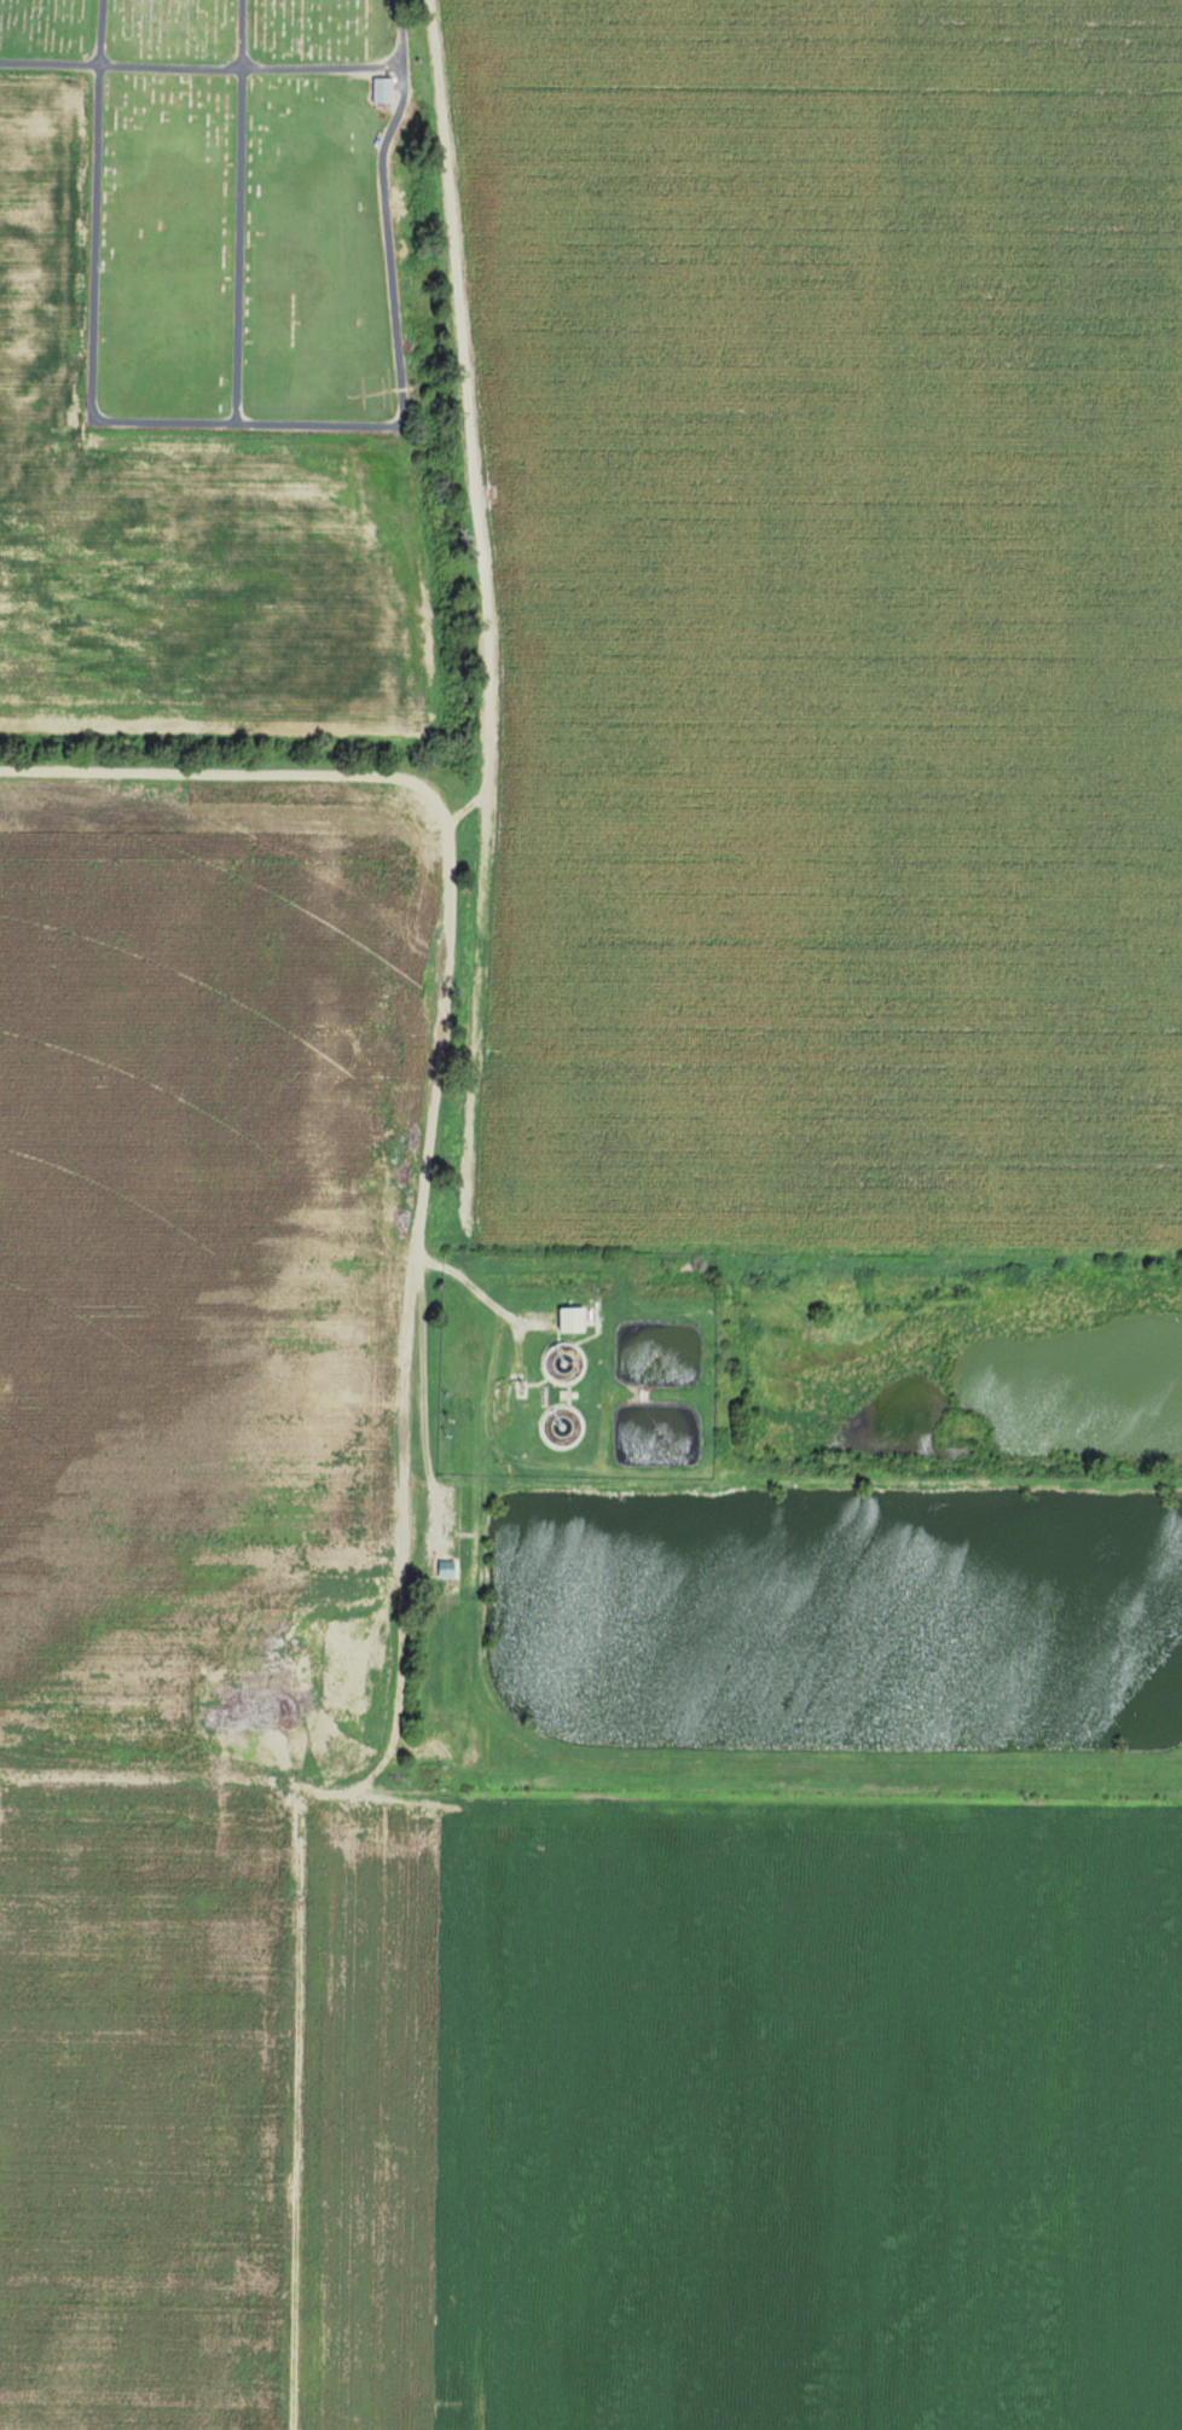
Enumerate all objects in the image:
road: (102, 30)
road: (50, 60)
building: (384, 91)
park: (241, 205)
road: (199, 775)
road: (428, 1274)
building: (574, 1320)
building: (448, 1570)

